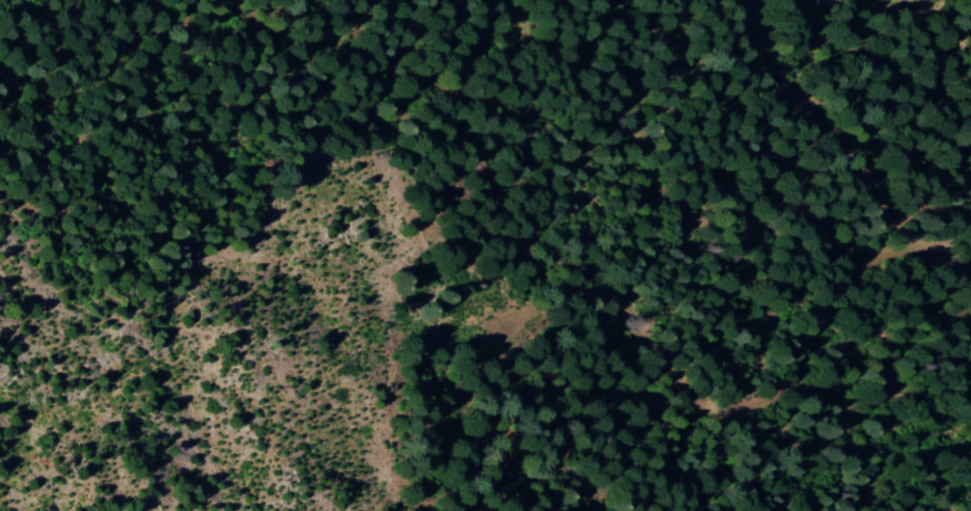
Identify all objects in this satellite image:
road: (821, 161)

